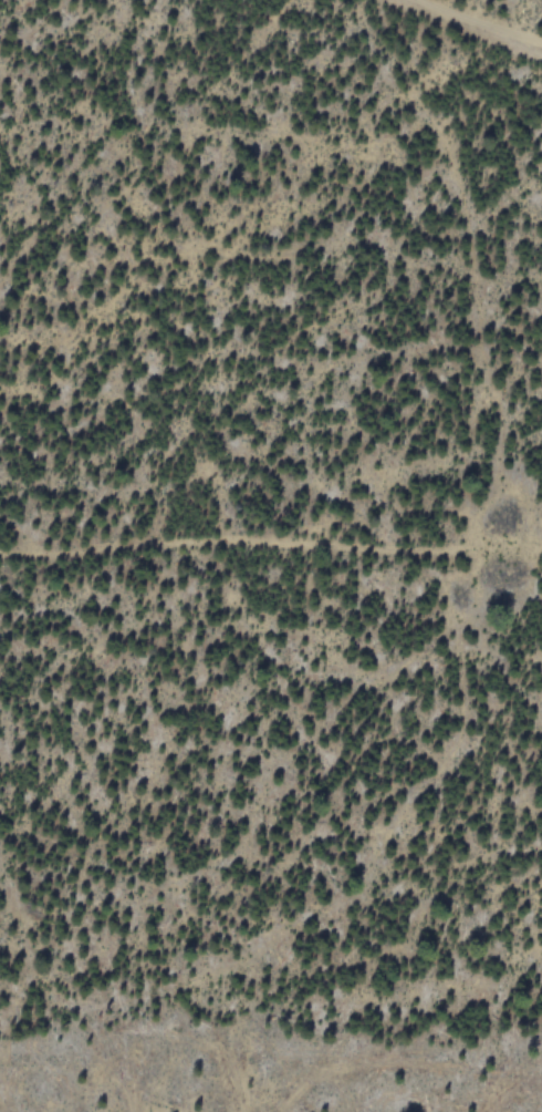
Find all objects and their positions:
road: (477, 25)
road: (270, 545)

